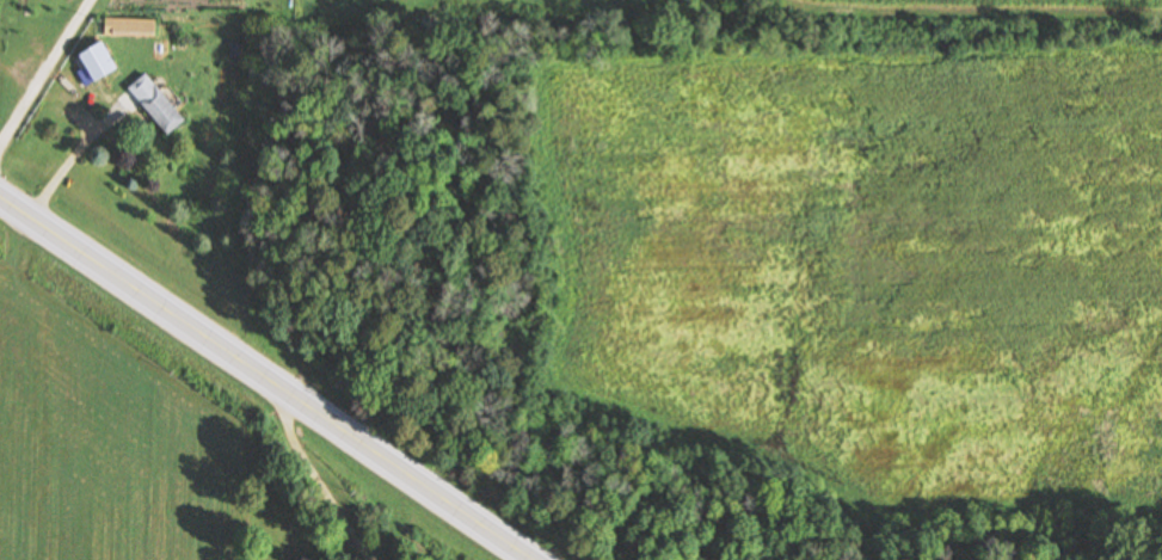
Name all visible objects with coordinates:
building: (98, 66)
building: (158, 104)
road: (271, 377)
road: (313, 479)
road: (444, 525)

